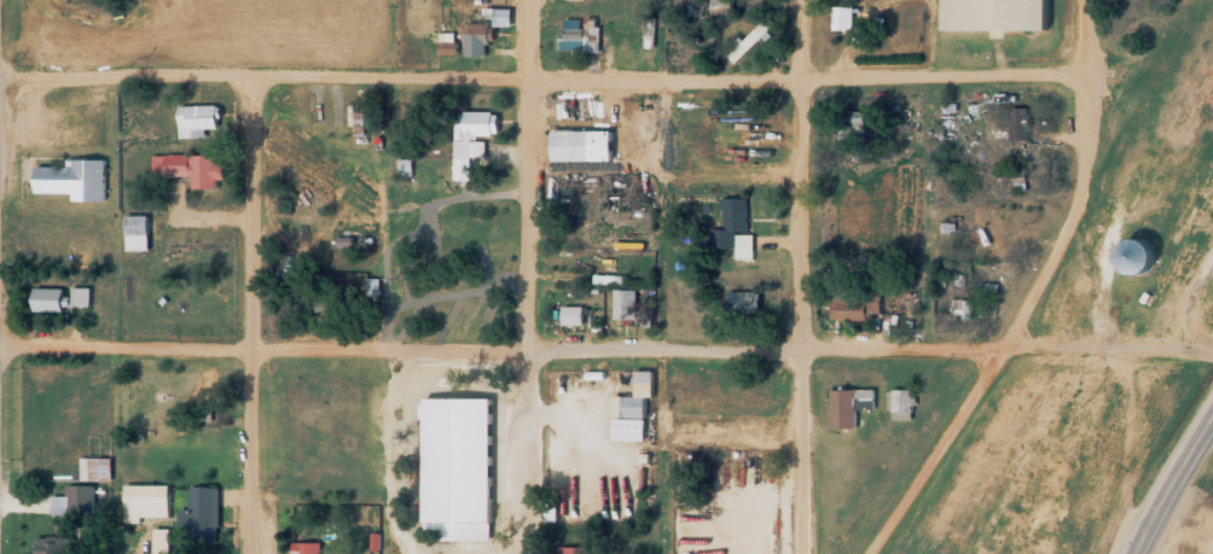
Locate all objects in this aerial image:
building: (994, 14)
building: (842, 18)
building: (486, 28)
building: (756, 33)
building: (580, 36)
road: (540, 80)
building: (364, 116)
building: (196, 119)
building: (1020, 123)
building: (469, 139)
building: (569, 145)
building: (192, 167)
building: (1014, 175)
building: (70, 177)
road: (1074, 183)
building: (1015, 212)
building: (135, 224)
building: (733, 228)
building: (1008, 237)
building: (1134, 255)
silo: (1134, 255)
road: (523, 276)
road: (790, 276)
building: (59, 298)
building: (743, 301)
building: (623, 305)
building: (855, 308)
building: (958, 308)
road: (246, 313)
building: (571, 315)
road: (498, 350)
building: (750, 395)
building: (899, 402)
building: (849, 403)
building: (632, 409)
building: (749, 427)
road: (930, 453)
road: (1171, 485)
building: (77, 498)
building: (145, 500)
building: (201, 508)
building: (551, 509)
building: (159, 541)
building: (54, 544)
building: (304, 547)
building: (574, 549)

